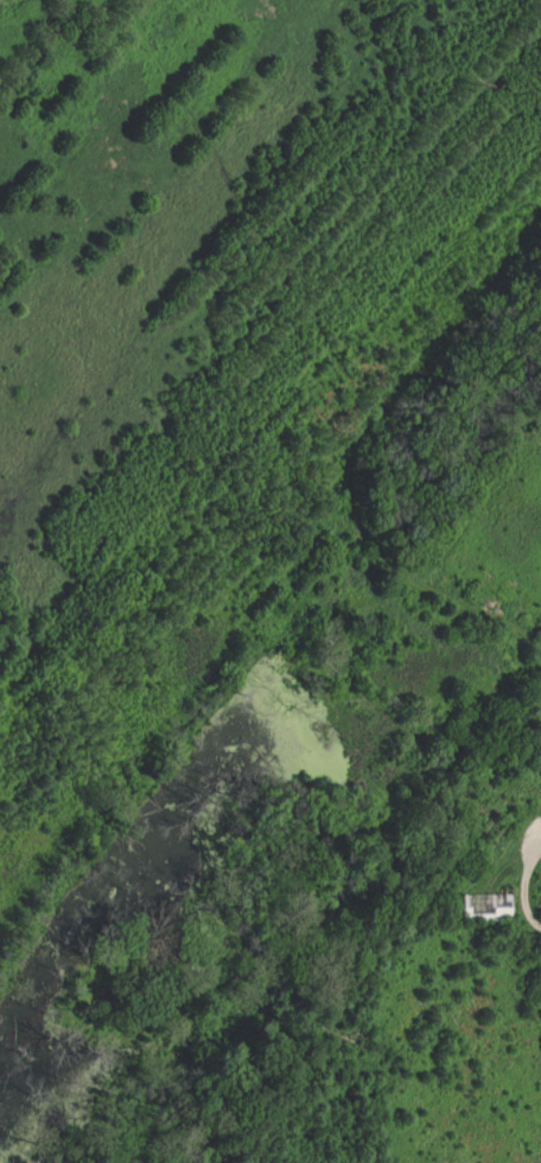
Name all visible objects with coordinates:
building: (489, 908)
road: (527, 914)

